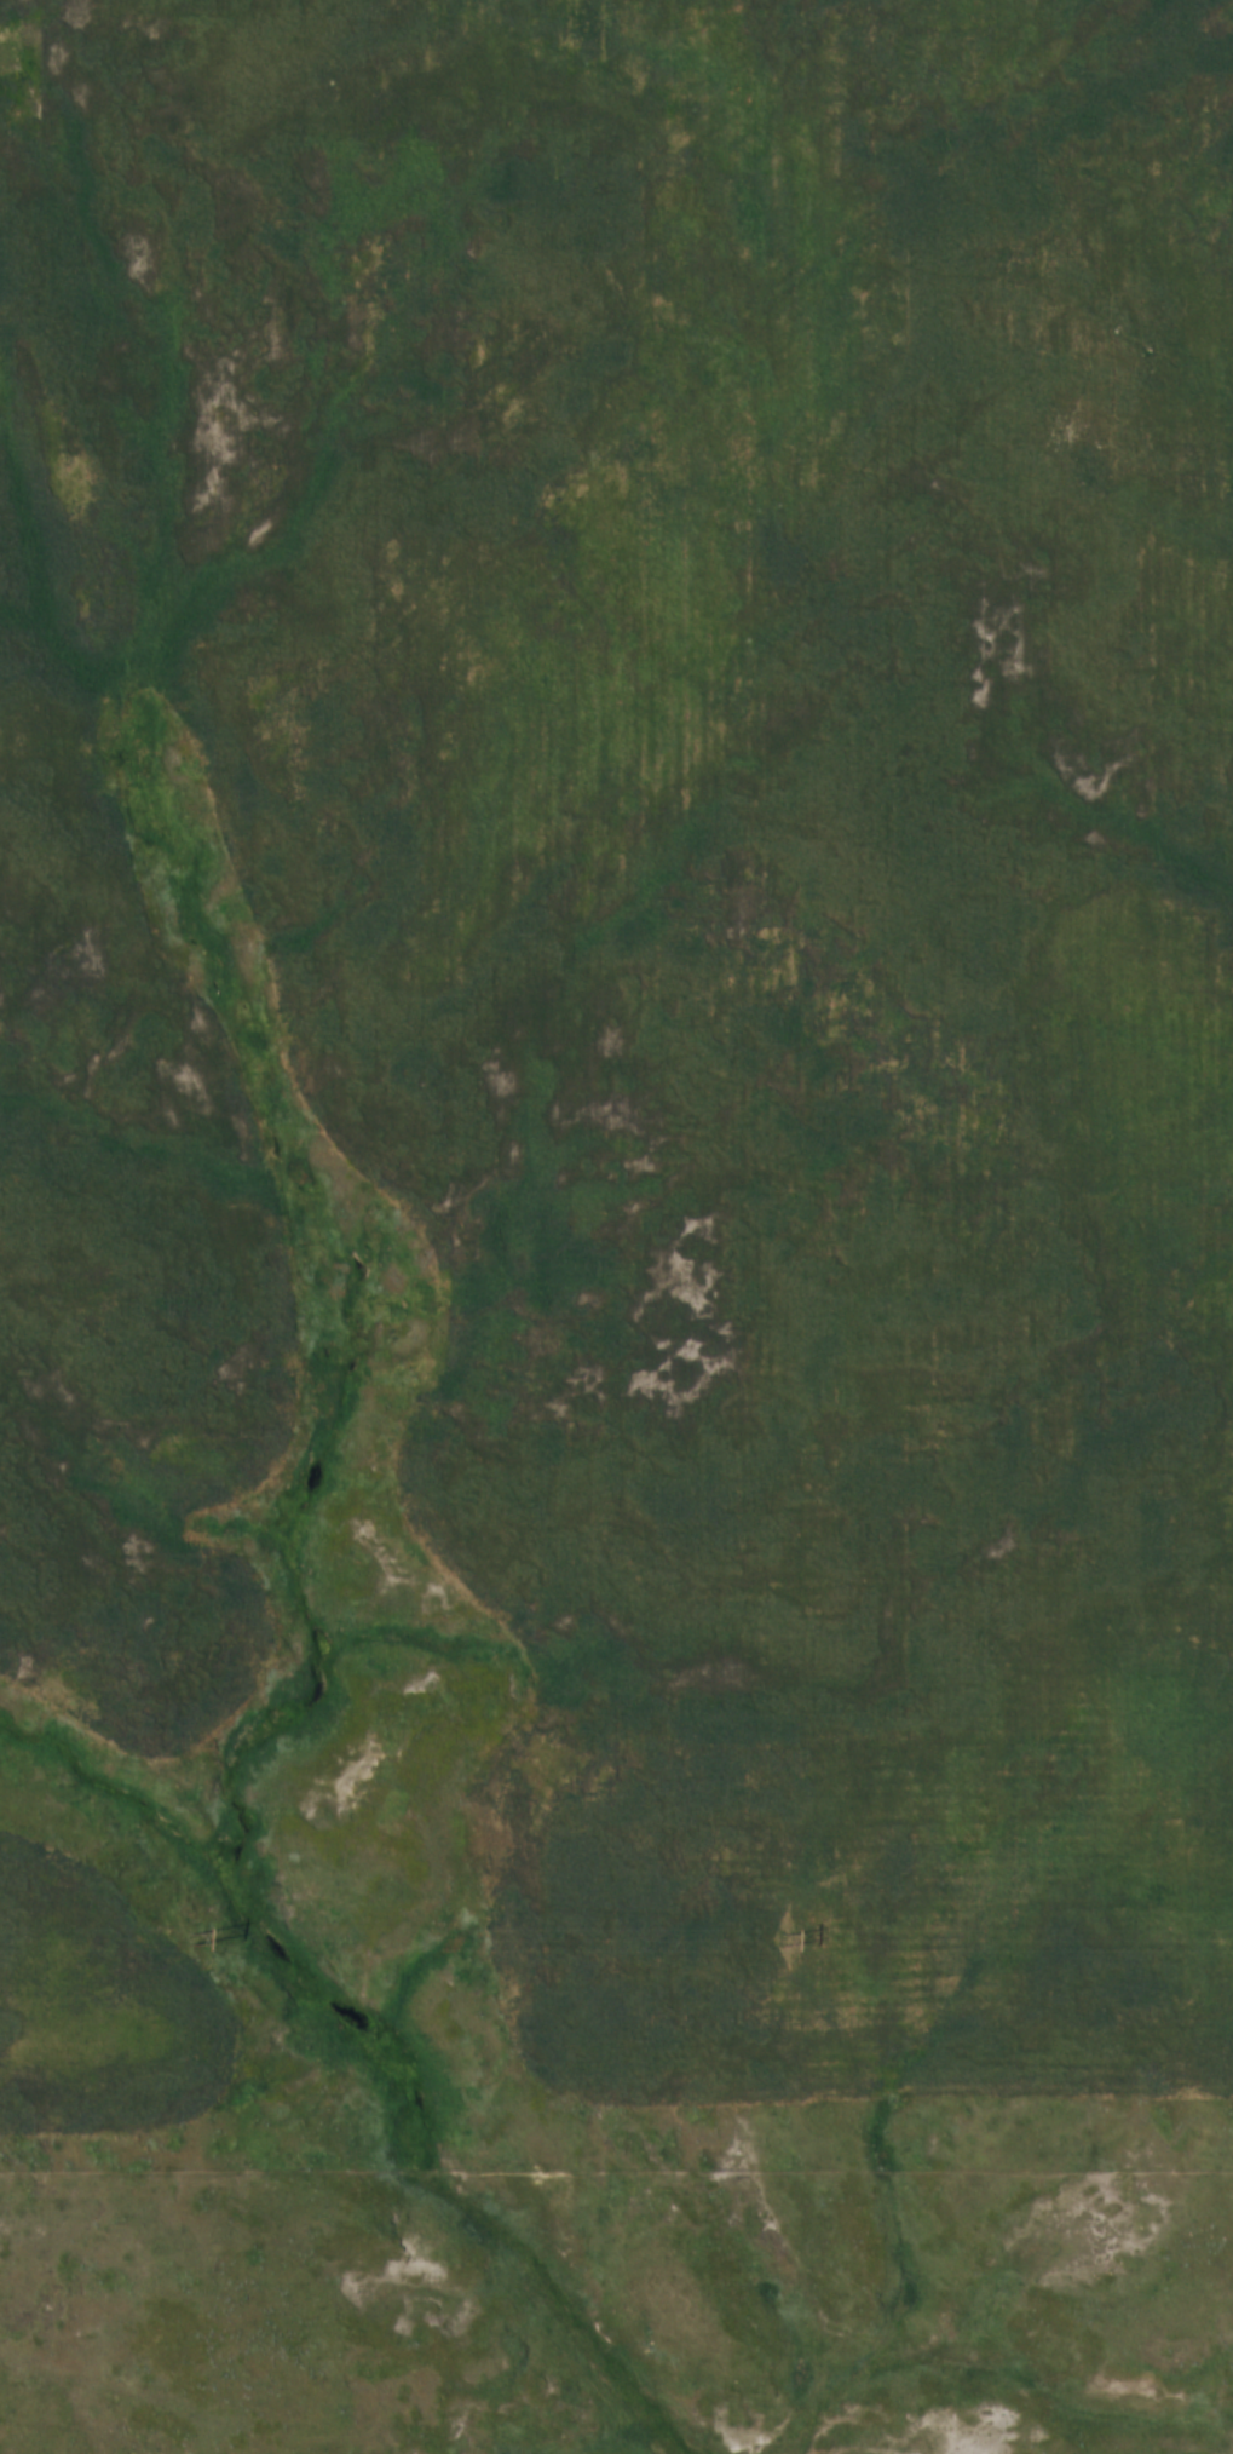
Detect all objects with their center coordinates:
power tower: (190, 1942)
power tower: (785, 1942)

